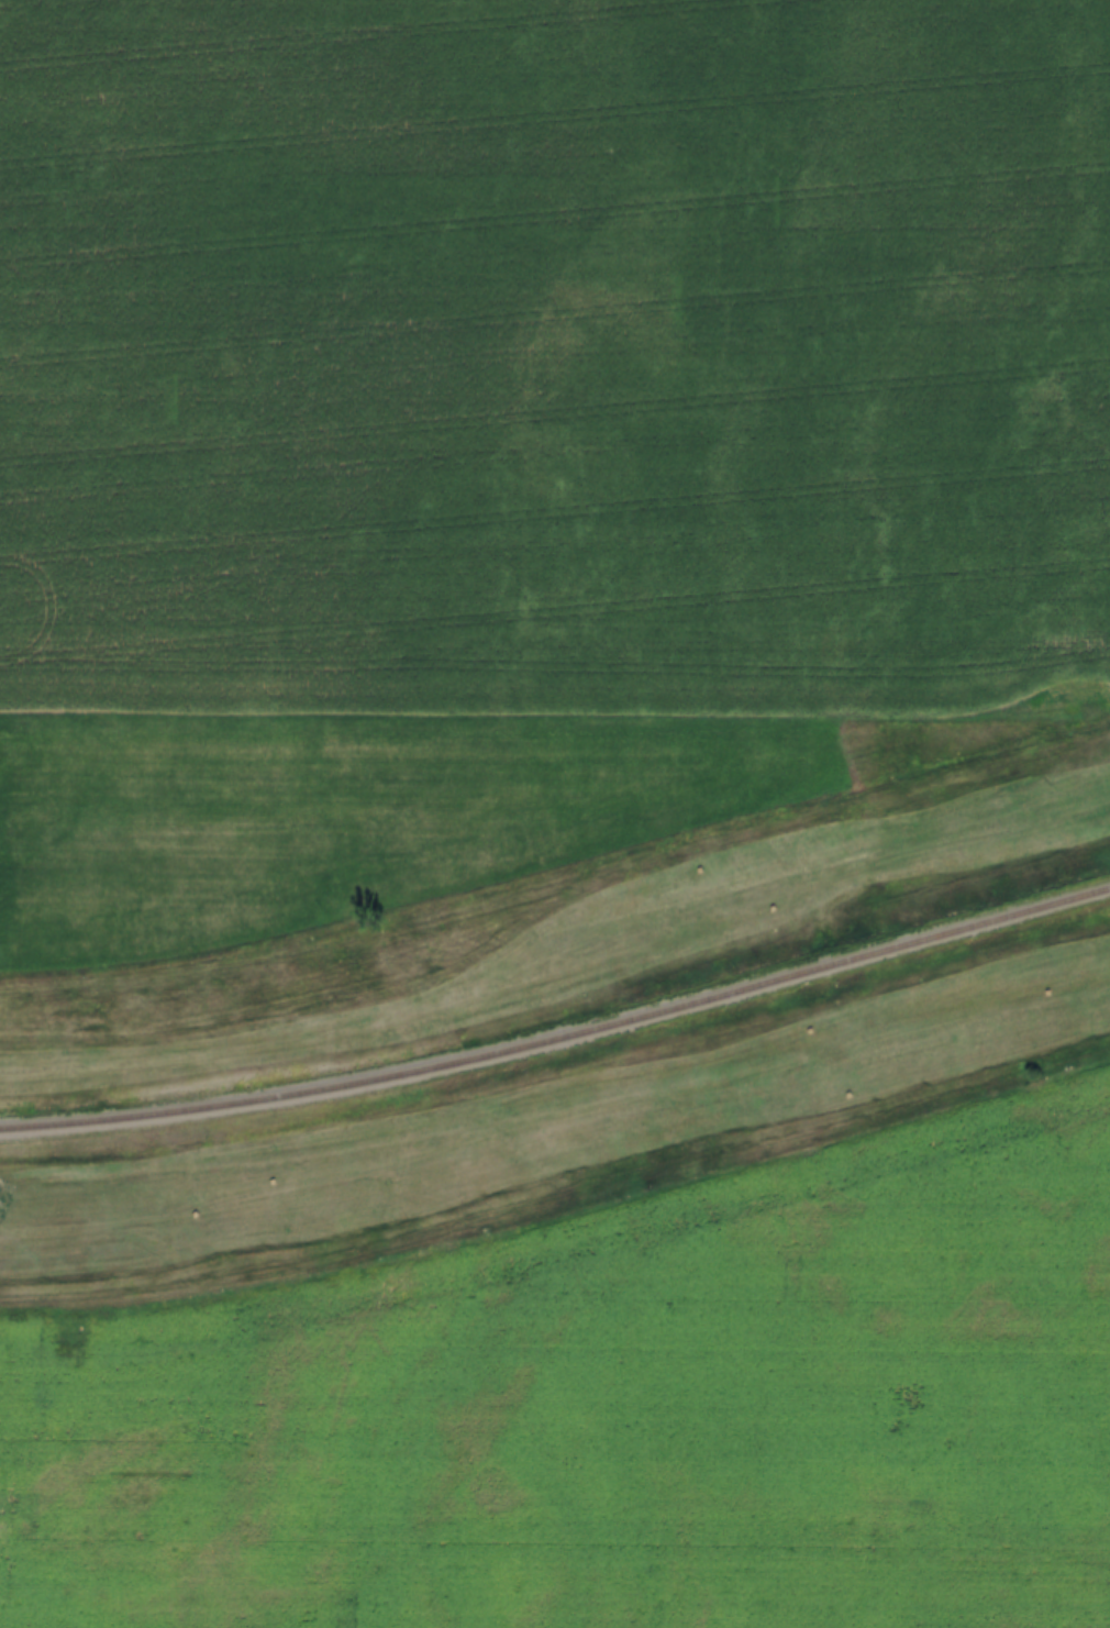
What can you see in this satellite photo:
railway: (559, 1033)

